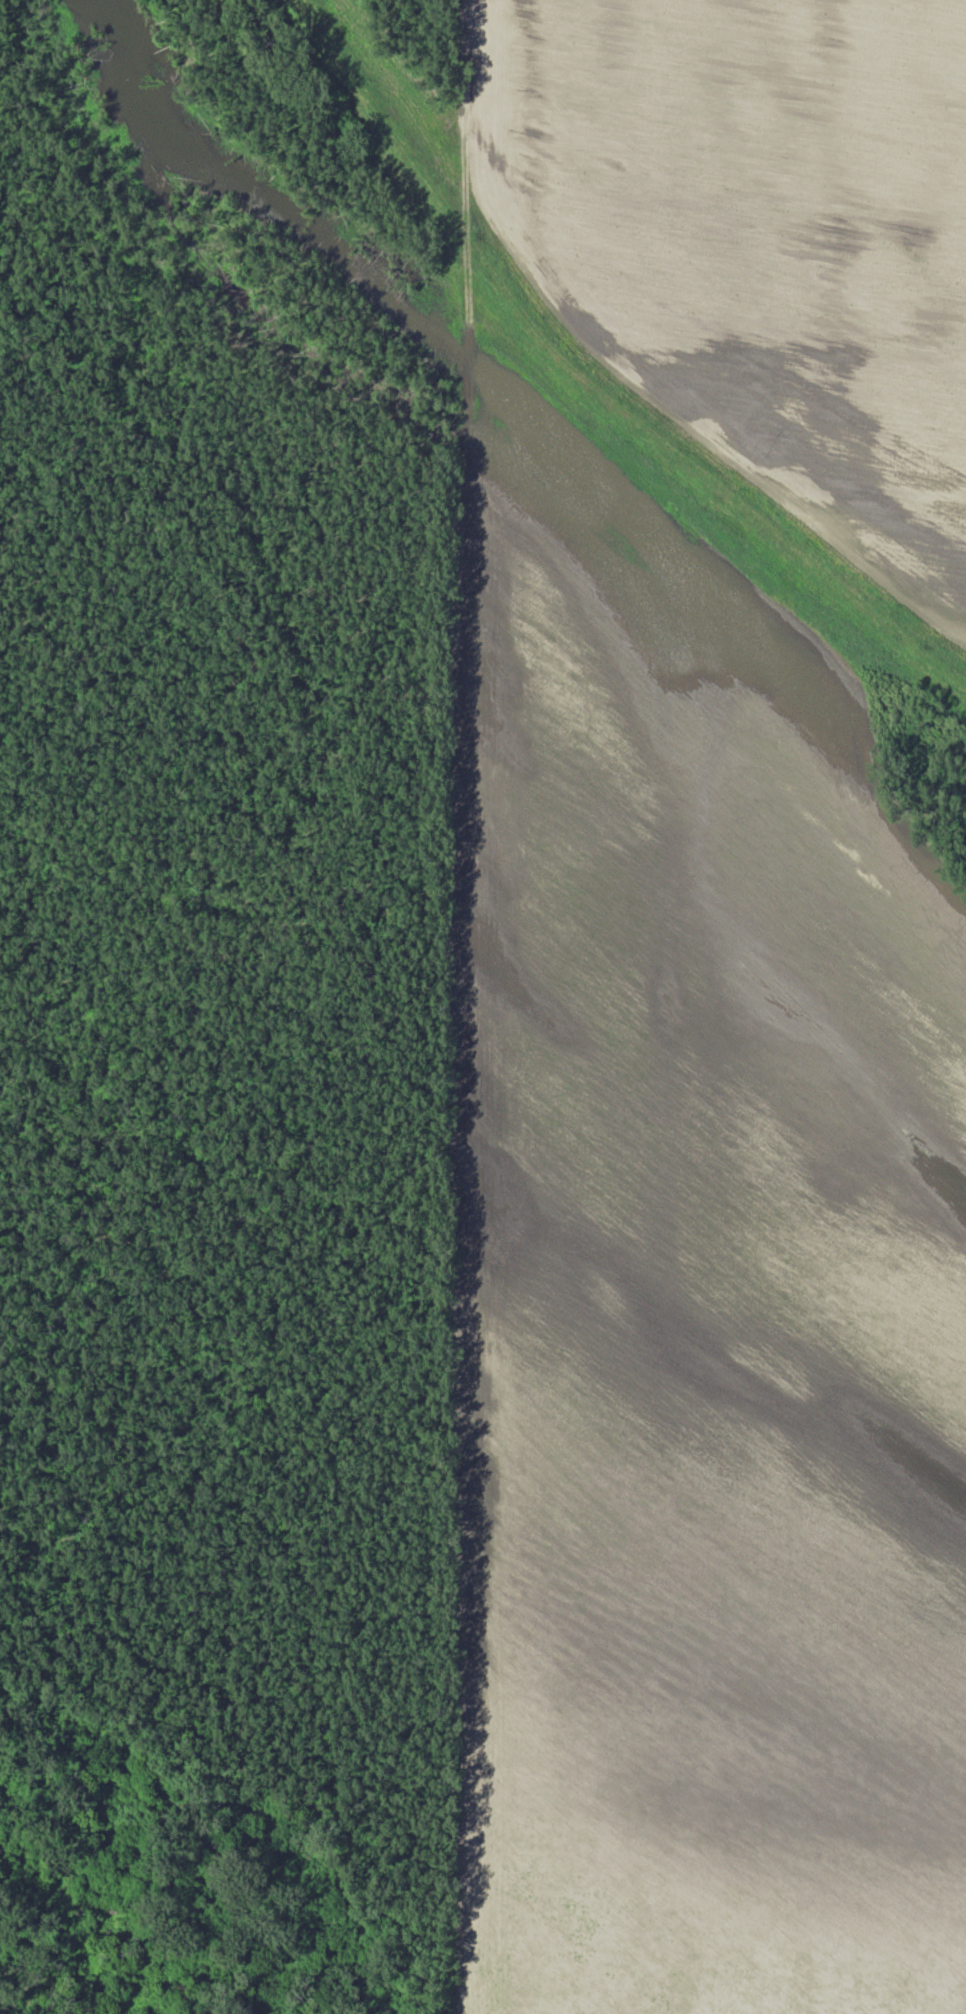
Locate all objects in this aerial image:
road: (452, 1005)

